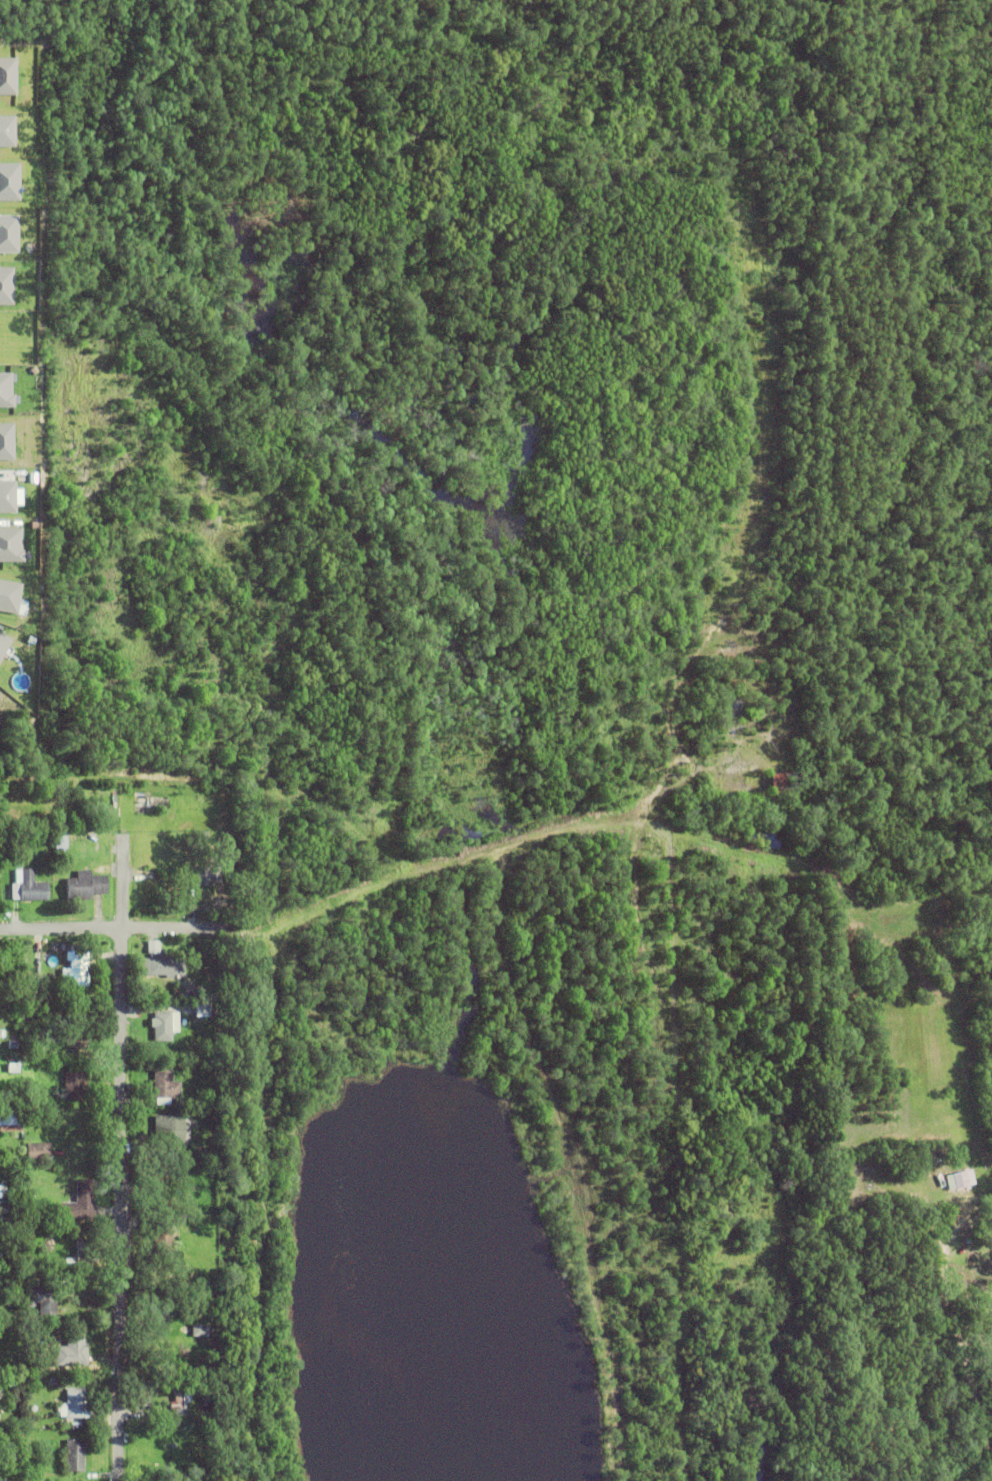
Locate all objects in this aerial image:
building: (7, 285)
building: (7, 389)
building: (808, 760)
building: (790, 781)
building: (199, 836)
building: (9, 838)
building: (154, 865)
building: (206, 876)
building: (145, 877)
building: (84, 886)
building: (27, 887)
road: (119, 927)
building: (152, 947)
building: (199, 949)
building: (186, 953)
building: (161, 967)
building: (76, 969)
building: (32, 971)
building: (209, 983)
building: (180, 990)
building: (14, 995)
building: (189, 997)
building: (206, 999)
building: (223, 999)
building: (202, 1011)
building: (162, 1027)
building: (78, 1034)
building: (12, 1045)
building: (10, 1059)
building: (12, 1069)
building: (164, 1086)
building: (74, 1087)
building: (10, 1121)
building: (139, 1124)
building: (168, 1131)
road: (121, 1135)
building: (38, 1152)
building: (956, 1182)
building: (79, 1204)
building: (164, 1208)
building: (186, 1220)
building: (991, 1228)
building: (82, 1249)
building: (32, 1274)
building: (43, 1303)
building: (157, 1309)
building: (199, 1332)
road: (961, 1332)
building: (144, 1340)
building: (71, 1351)
building: (18, 1354)
building: (51, 1381)
building: (3, 1383)
building: (145, 1395)
building: (205, 1398)
building: (178, 1399)
building: (74, 1405)
building: (139, 1413)
building: (73, 1457)
building: (3, 1477)

